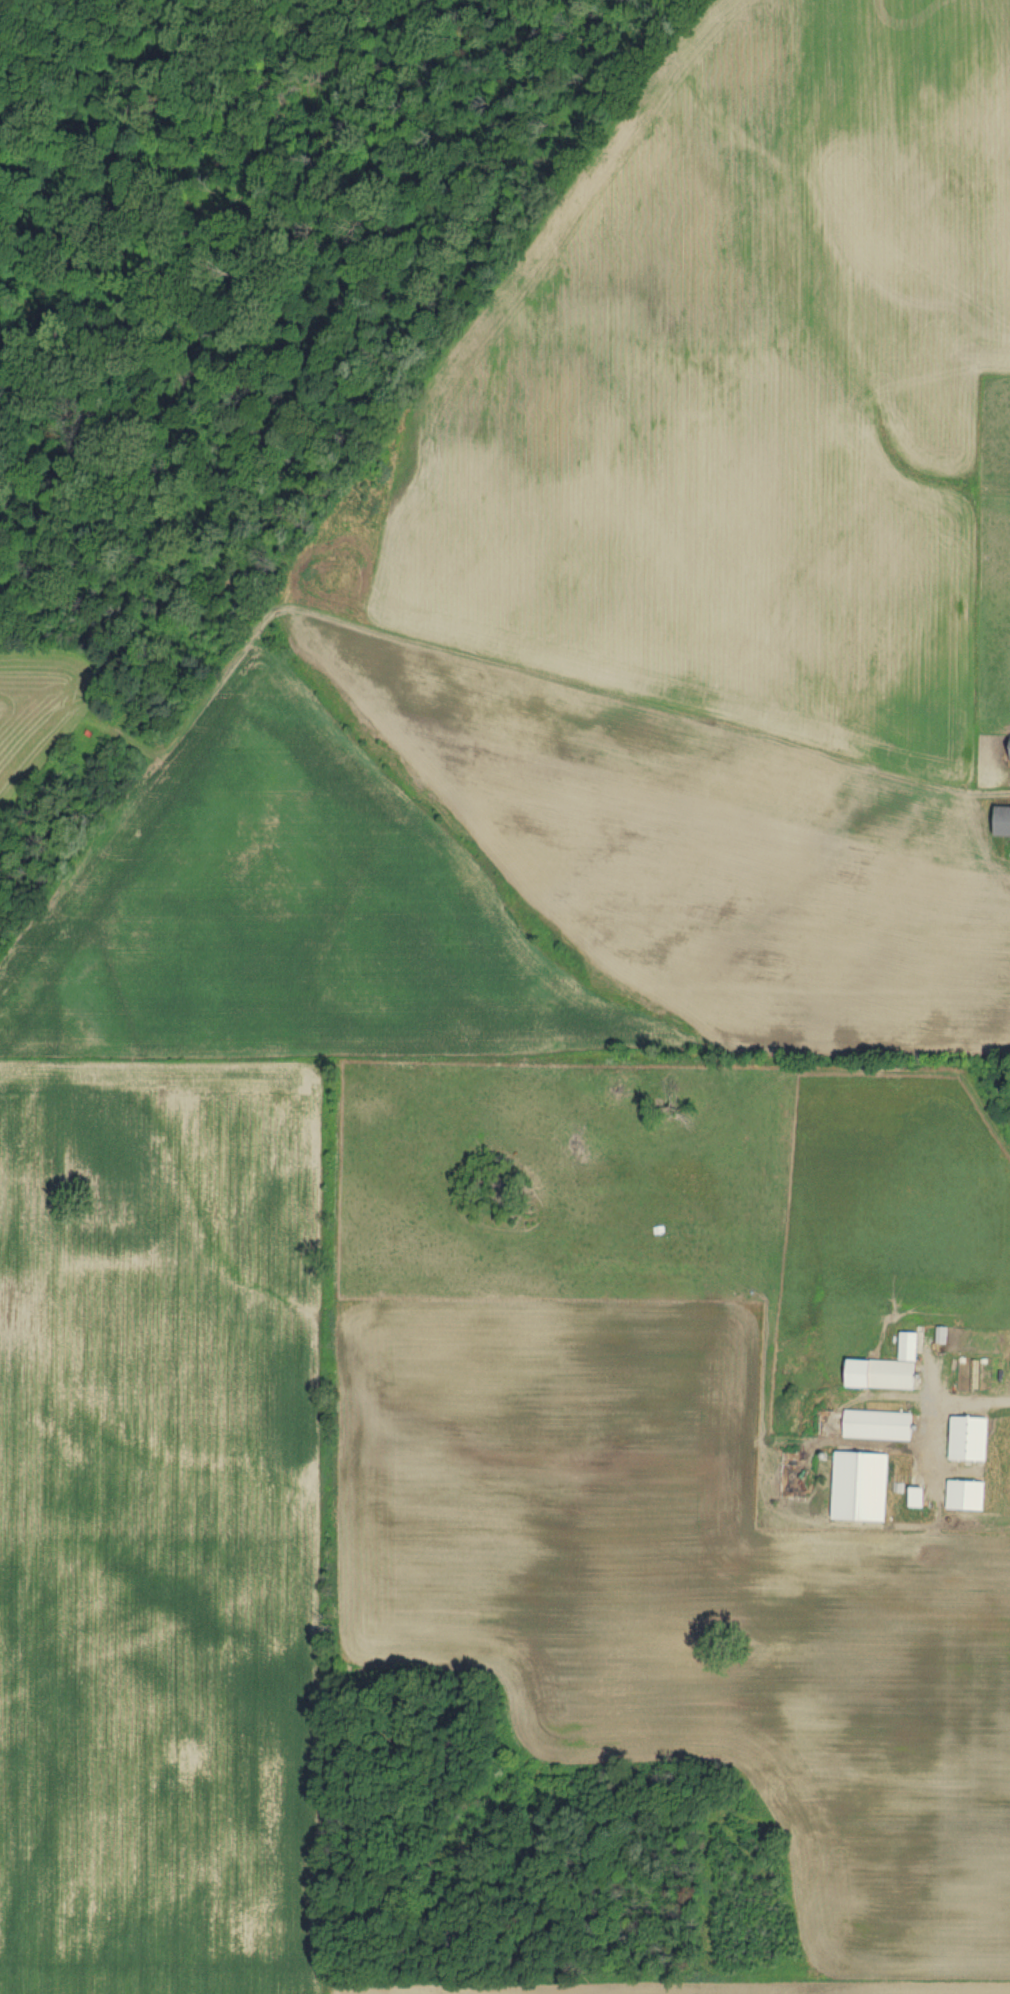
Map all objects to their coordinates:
building: (1005, 824)
building: (943, 1339)
building: (900, 1371)
road: (969, 1402)
building: (881, 1429)

